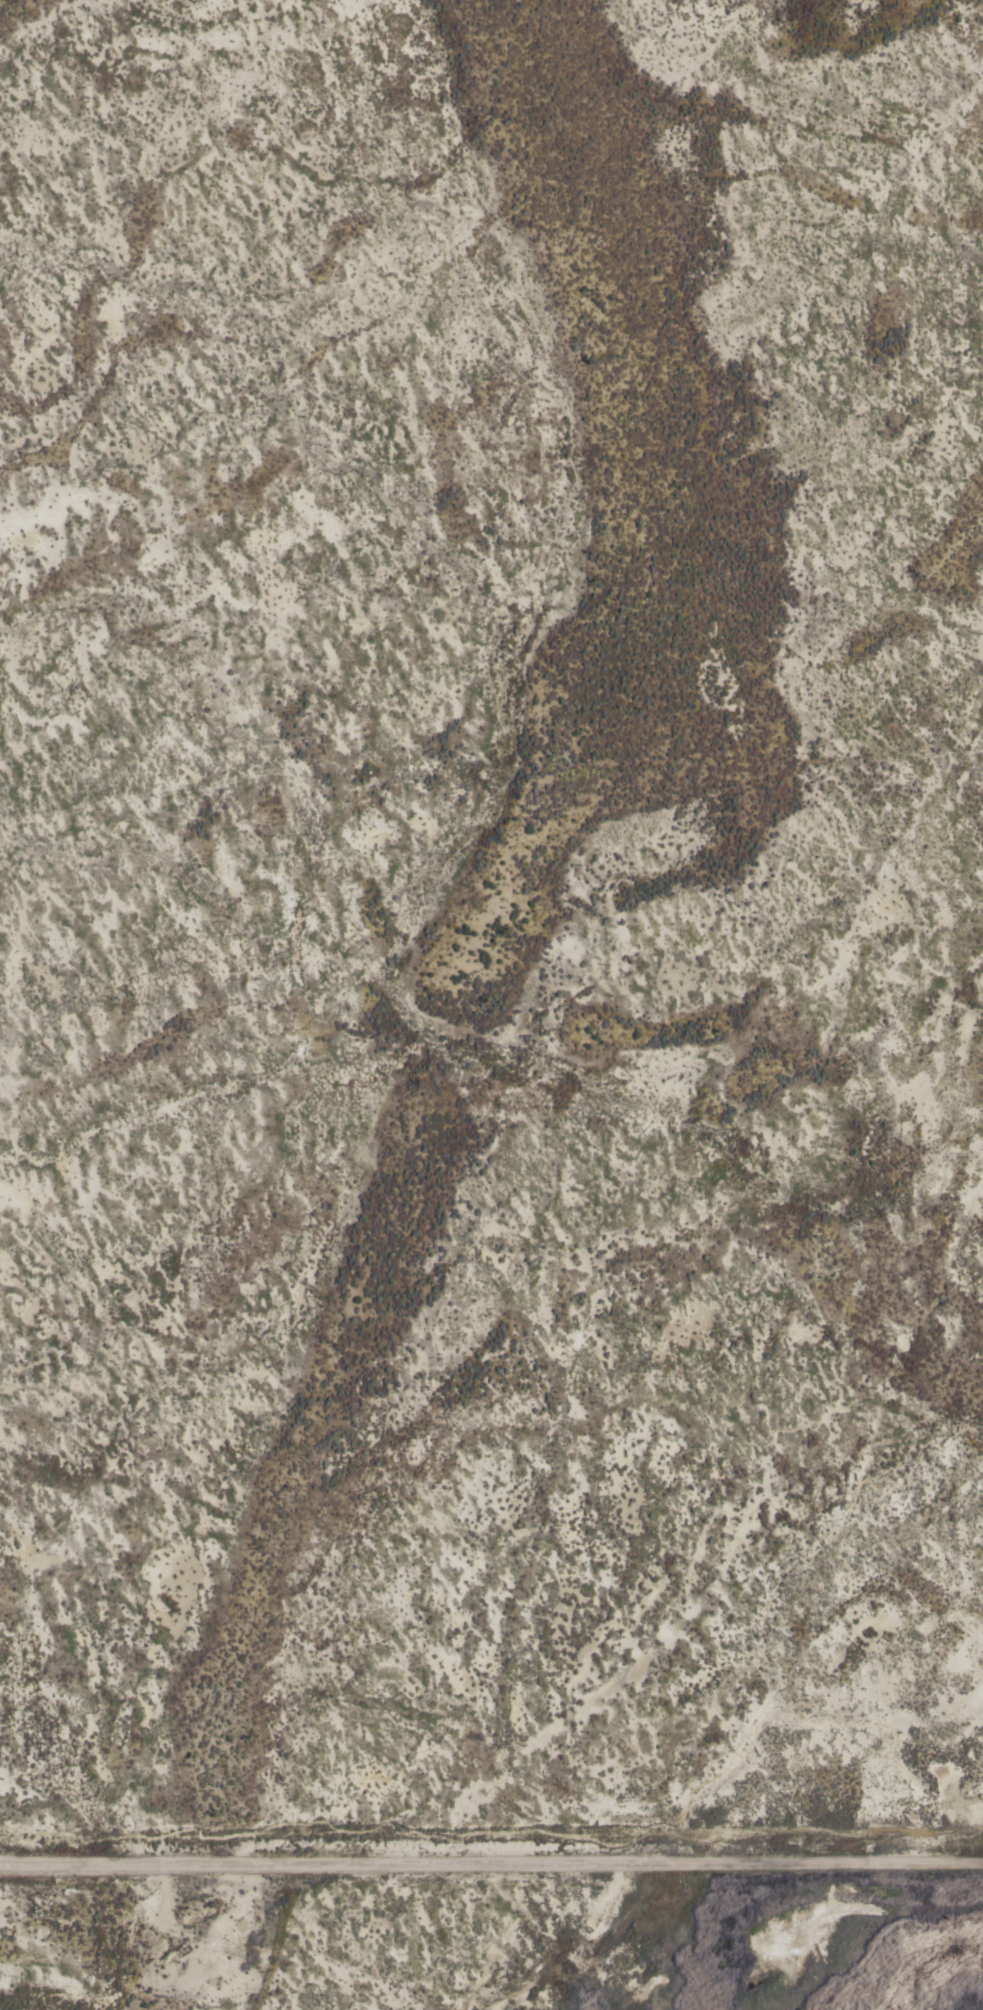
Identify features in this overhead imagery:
road: (491, 1868)

